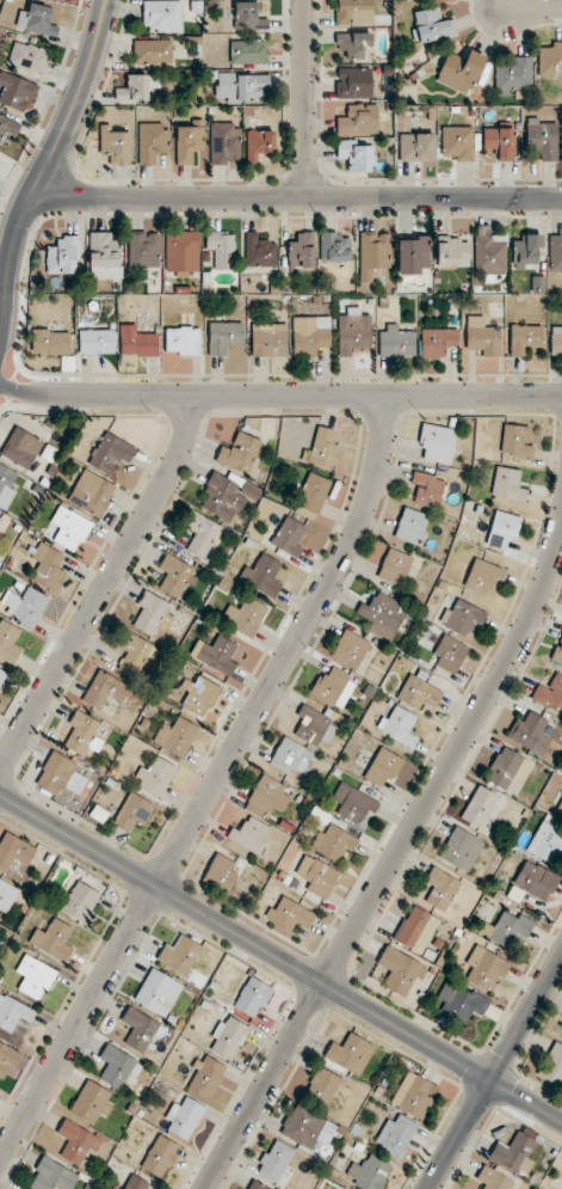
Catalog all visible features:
road: (532, 8)
building: (354, 12)
building: (162, 16)
building: (248, 17)
building: (37, 19)
building: (431, 25)
building: (354, 43)
building: (153, 51)
building: (248, 51)
building: (27, 56)
building: (550, 60)
building: (459, 71)
building: (513, 75)
building: (353, 82)
building: (241, 86)
building: (137, 87)
building: (16, 91)
road: (305, 96)
building: (8, 128)
building: (543, 139)
building: (152, 141)
building: (189, 141)
building: (457, 141)
building: (224, 142)
building: (499, 142)
building: (259, 143)
building: (115, 145)
building: (416, 146)
building: (356, 155)
road: (44, 168)
road: (297, 192)
building: (335, 247)
building: (143, 249)
building: (221, 249)
building: (301, 250)
building: (525, 250)
building: (181, 251)
building: (259, 251)
building: (452, 251)
building: (488, 251)
building: (373, 252)
building: (555, 252)
building: (103, 255)
building: (413, 255)
building: (63, 256)
building: (353, 331)
building: (310, 335)
building: (223, 336)
building: (482, 336)
building: (524, 338)
building: (181, 339)
building: (270, 339)
building: (556, 339)
building: (97, 341)
building: (437, 341)
building: (50, 342)
building: (137, 342)
building: (396, 342)
road: (279, 397)
building: (515, 441)
building: (437, 442)
building: (21, 447)
building: (322, 448)
building: (239, 452)
building: (111, 454)
building: (507, 484)
building: (6, 488)
building: (427, 489)
building: (91, 492)
building: (311, 492)
building: (221, 496)
building: (0, 519)
building: (410, 525)
building: (69, 528)
building: (502, 528)
building: (199, 533)
building: (288, 535)
building: (48, 566)
building: (394, 566)
building: (175, 575)
building: (261, 575)
building: (483, 576)
road: (104, 589)
building: (26, 606)
building: (152, 613)
building: (243, 615)
building: (382, 615)
building: (462, 617)
building: (8, 643)
building: (130, 649)
building: (350, 649)
building: (557, 651)
building: (215, 654)
building: (450, 654)
building: (1, 674)
building: (333, 687)
building: (103, 690)
building: (198, 693)
building: (419, 693)
building: (550, 693)
building: (153, 700)
building: (163, 707)
building: (144, 723)
building: (400, 725)
building: (315, 727)
building: (82, 733)
building: (530, 733)
building: (174, 736)
building: (290, 756)
building: (382, 767)
building: (507, 767)
building: (112, 772)
building: (60, 774)
building: (155, 776)
building: (109, 782)
road: (215, 785)
building: (265, 793)
building: (353, 803)
building: (478, 807)
building: (560, 809)
building: (98, 813)
building: (131, 813)
building: (249, 833)
building: (333, 842)
building: (546, 842)
building: (461, 848)
building: (14, 851)
road: (394, 860)
building: (220, 874)
building: (317, 876)
building: (536, 880)
building: (440, 888)
building: (7, 895)
building: (80, 902)
building: (290, 914)
building: (416, 928)
building: (53, 939)
building: (179, 955)
road: (280, 958)
building: (484, 968)
building: (400, 970)
building: (35, 976)
building: (158, 992)
building: (251, 998)
building: (461, 1001)
building: (13, 1013)
building: (140, 1030)
building: (228, 1037)
building: (348, 1052)
building: (7, 1059)
building: (554, 1065)
building: (118, 1067)
road: (494, 1071)
building: (205, 1078)
building: (322, 1085)
building: (413, 1095)
building: (91, 1103)
building: (184, 1117)
building: (308, 1127)
building: (396, 1134)
building: (76, 1141)
building: (514, 1153)
building: (159, 1157)
building: (274, 1162)
building: (369, 1172)
building: (53, 1176)
building: (493, 1178)
building: (136, 1183)
building: (257, 1185)

